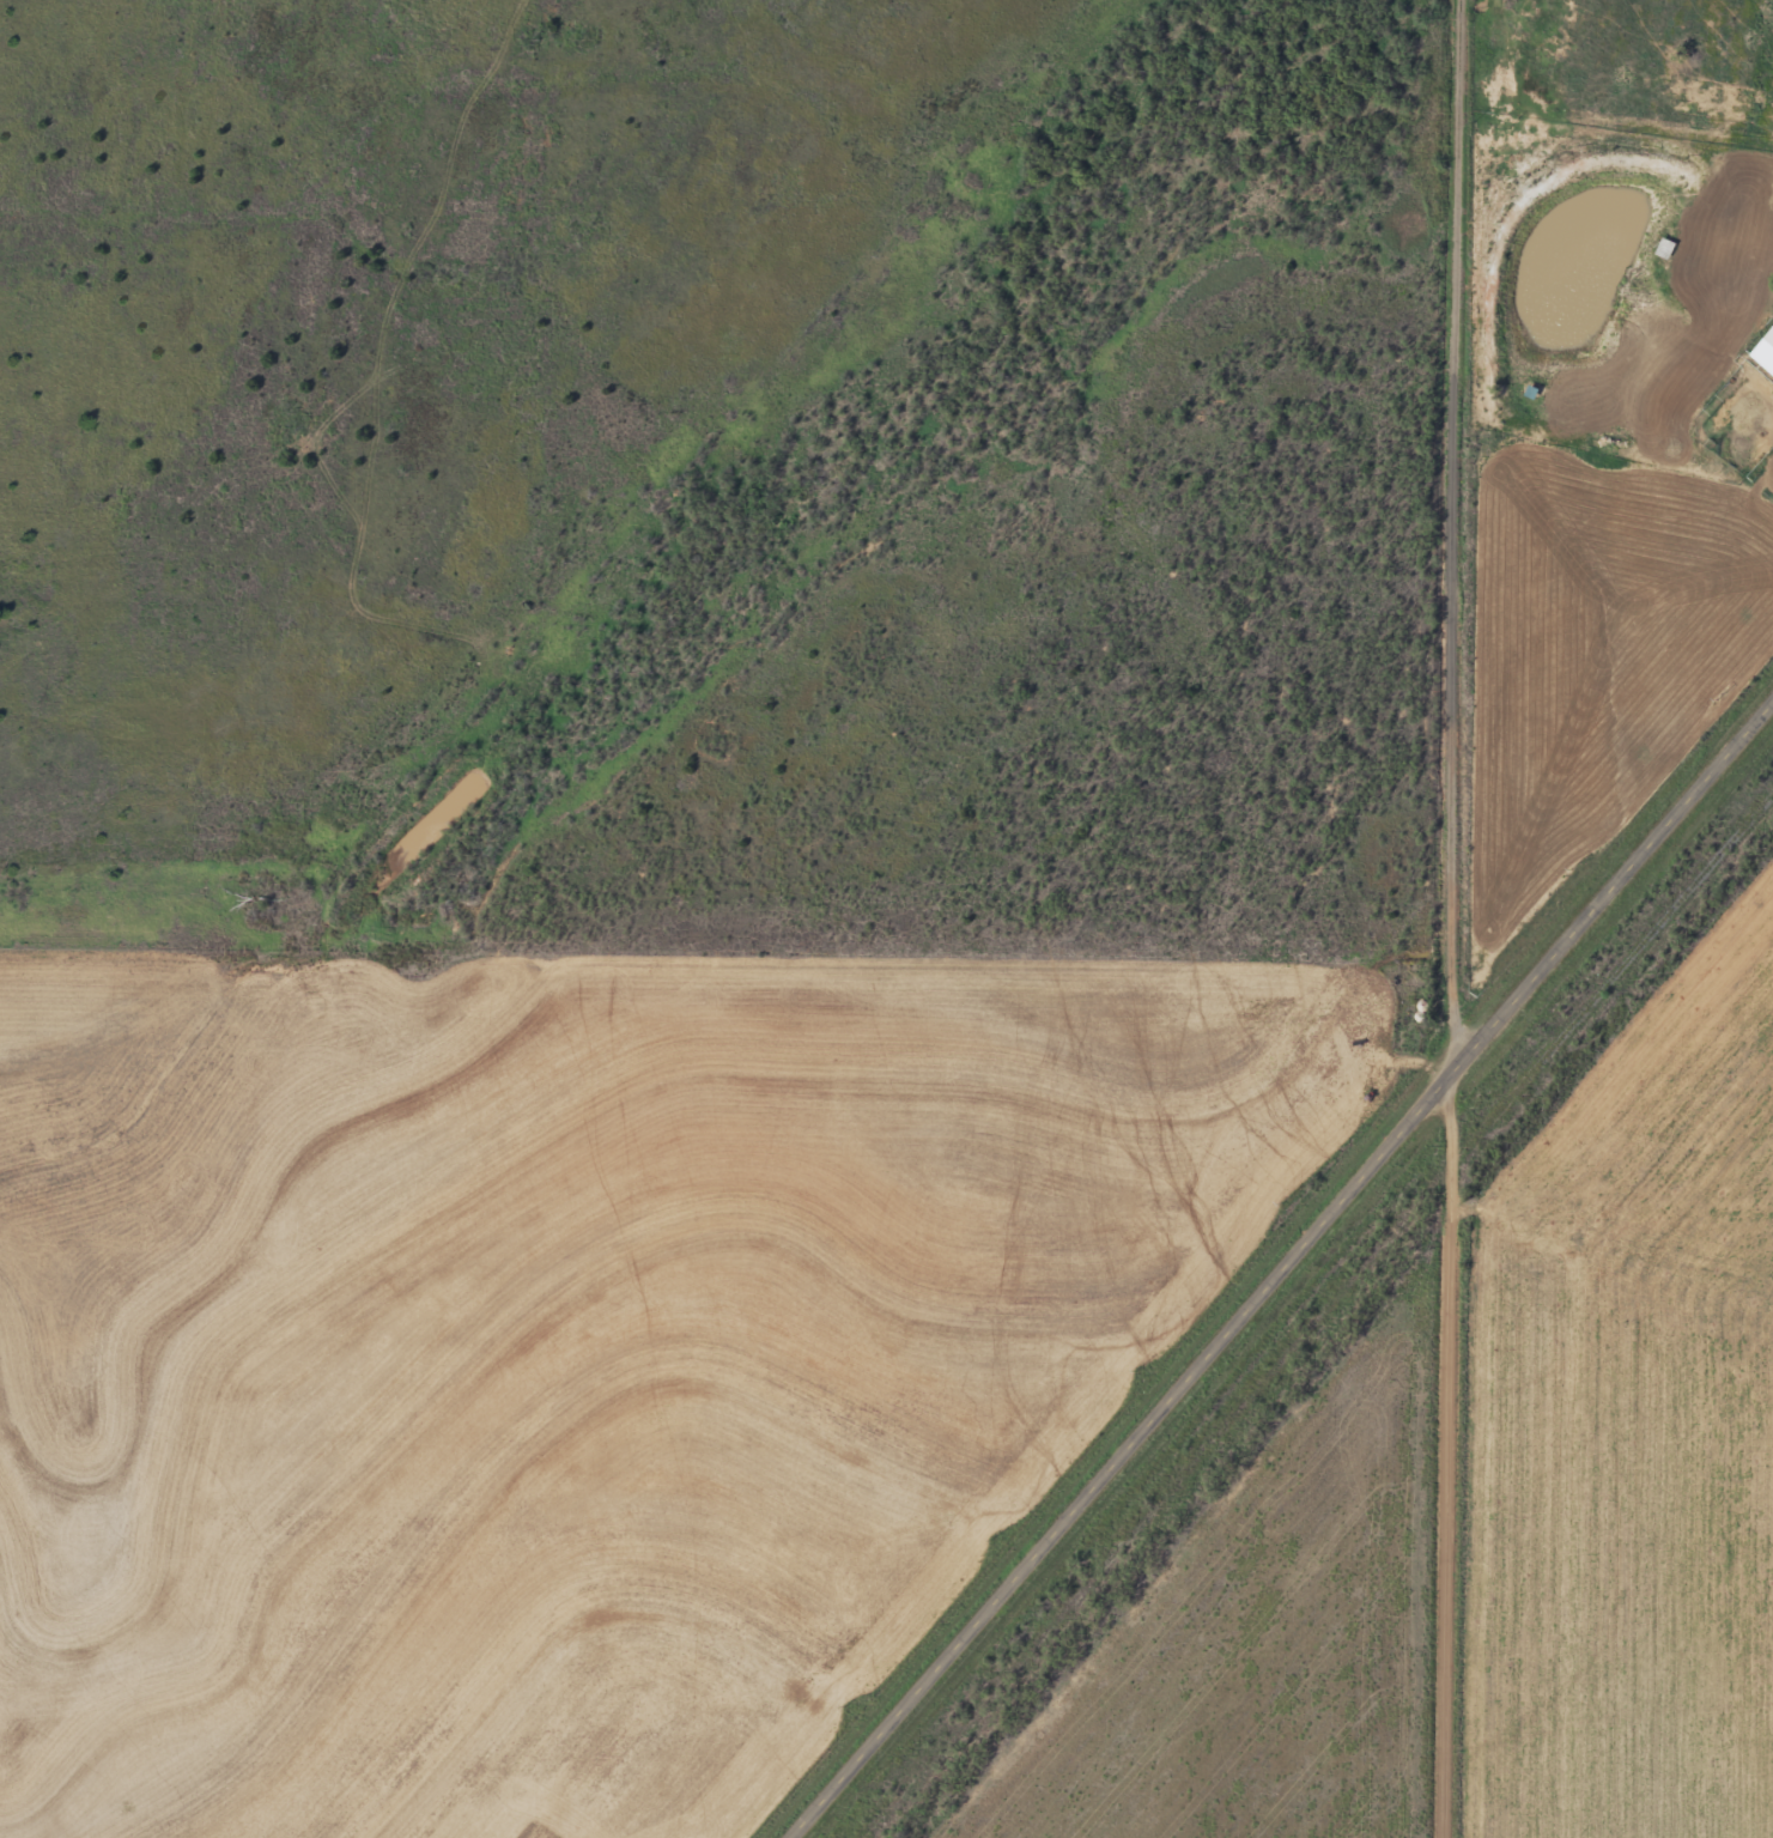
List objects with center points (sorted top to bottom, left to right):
building: (1766, 354)
road: (1457, 918)
road: (1288, 1278)
railway: (1318, 1312)

